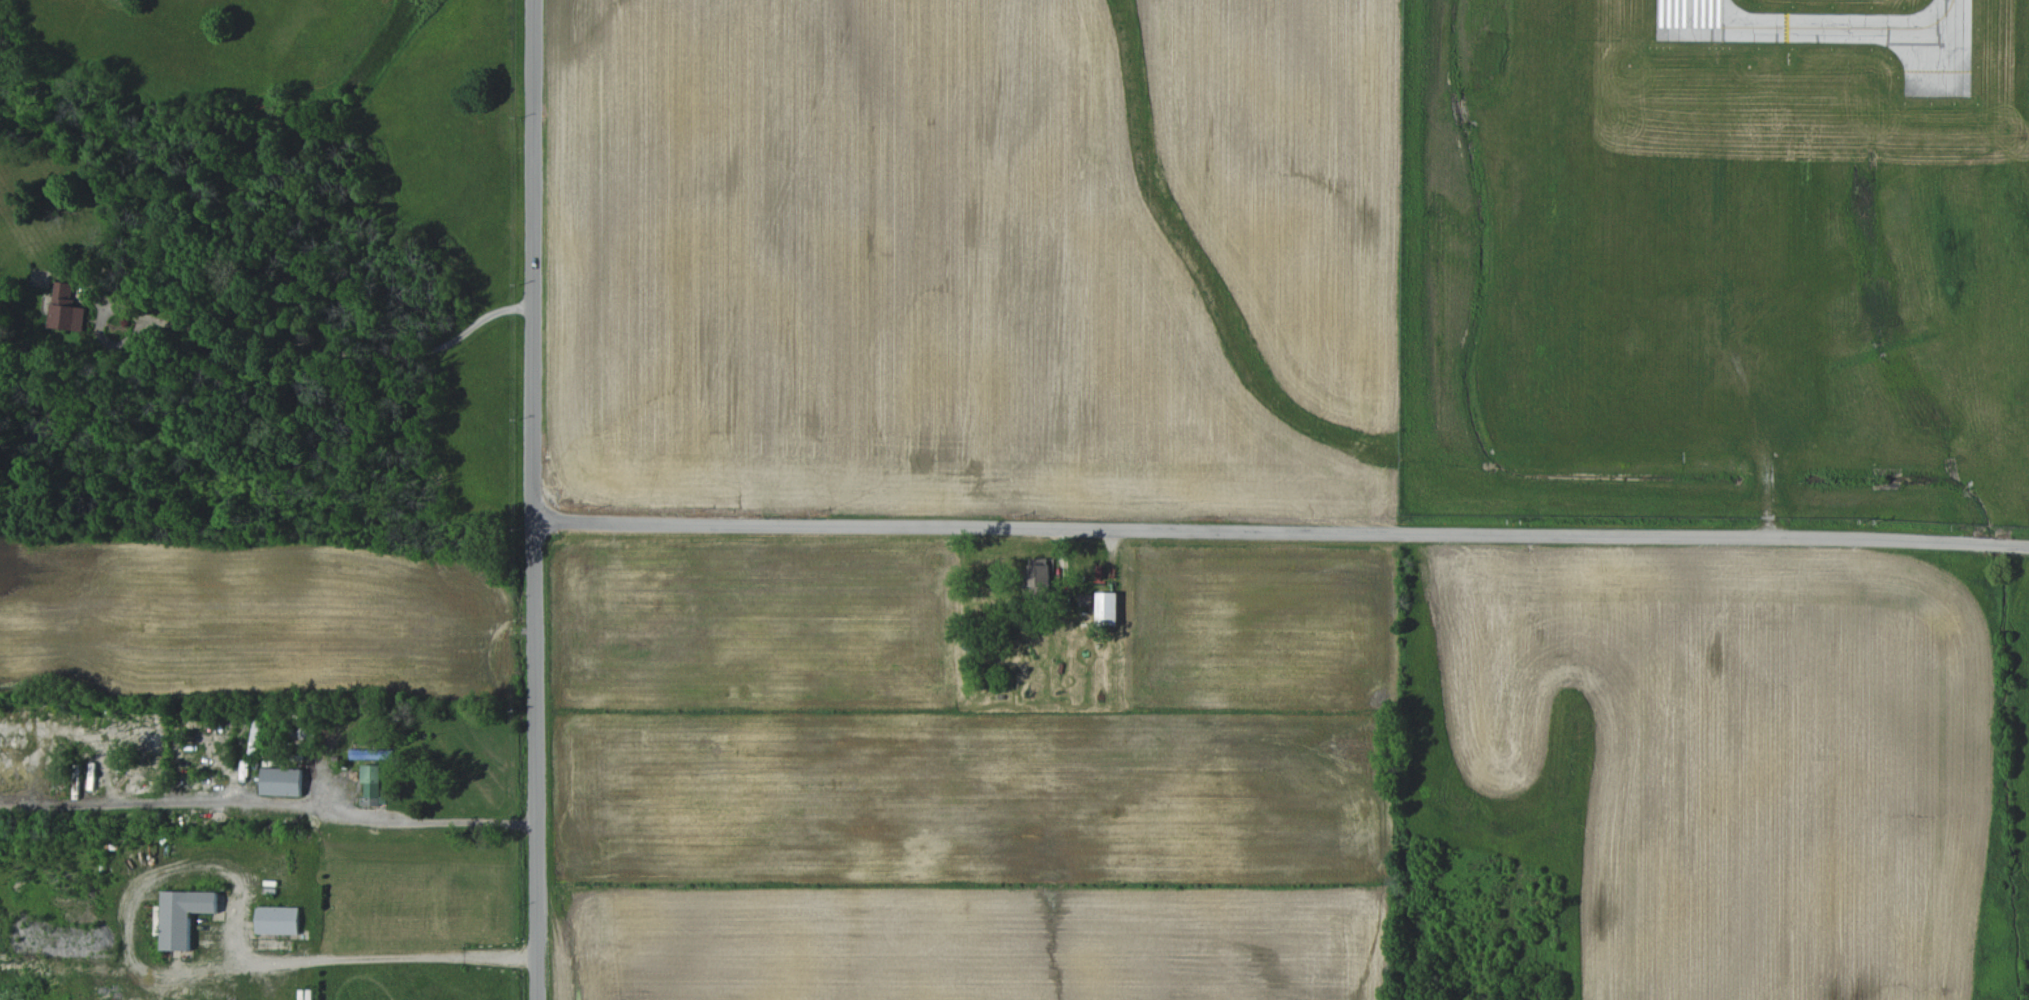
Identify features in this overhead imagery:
airport runway: (1688, 14)
airport taxiway: (1955, 15)
airport taxiway: (1821, 29)
airport: (1717, 259)
road: (534, 262)
building: (66, 308)
road: (331, 350)
road: (1281, 532)
building: (1038, 574)
building: (1085, 600)
building: (1107, 608)
building: (375, 754)
road: (536, 762)
building: (281, 781)
building: (370, 784)
road: (269, 801)
building: (182, 916)
building: (277, 920)
road: (194, 982)
road: (25, 991)

